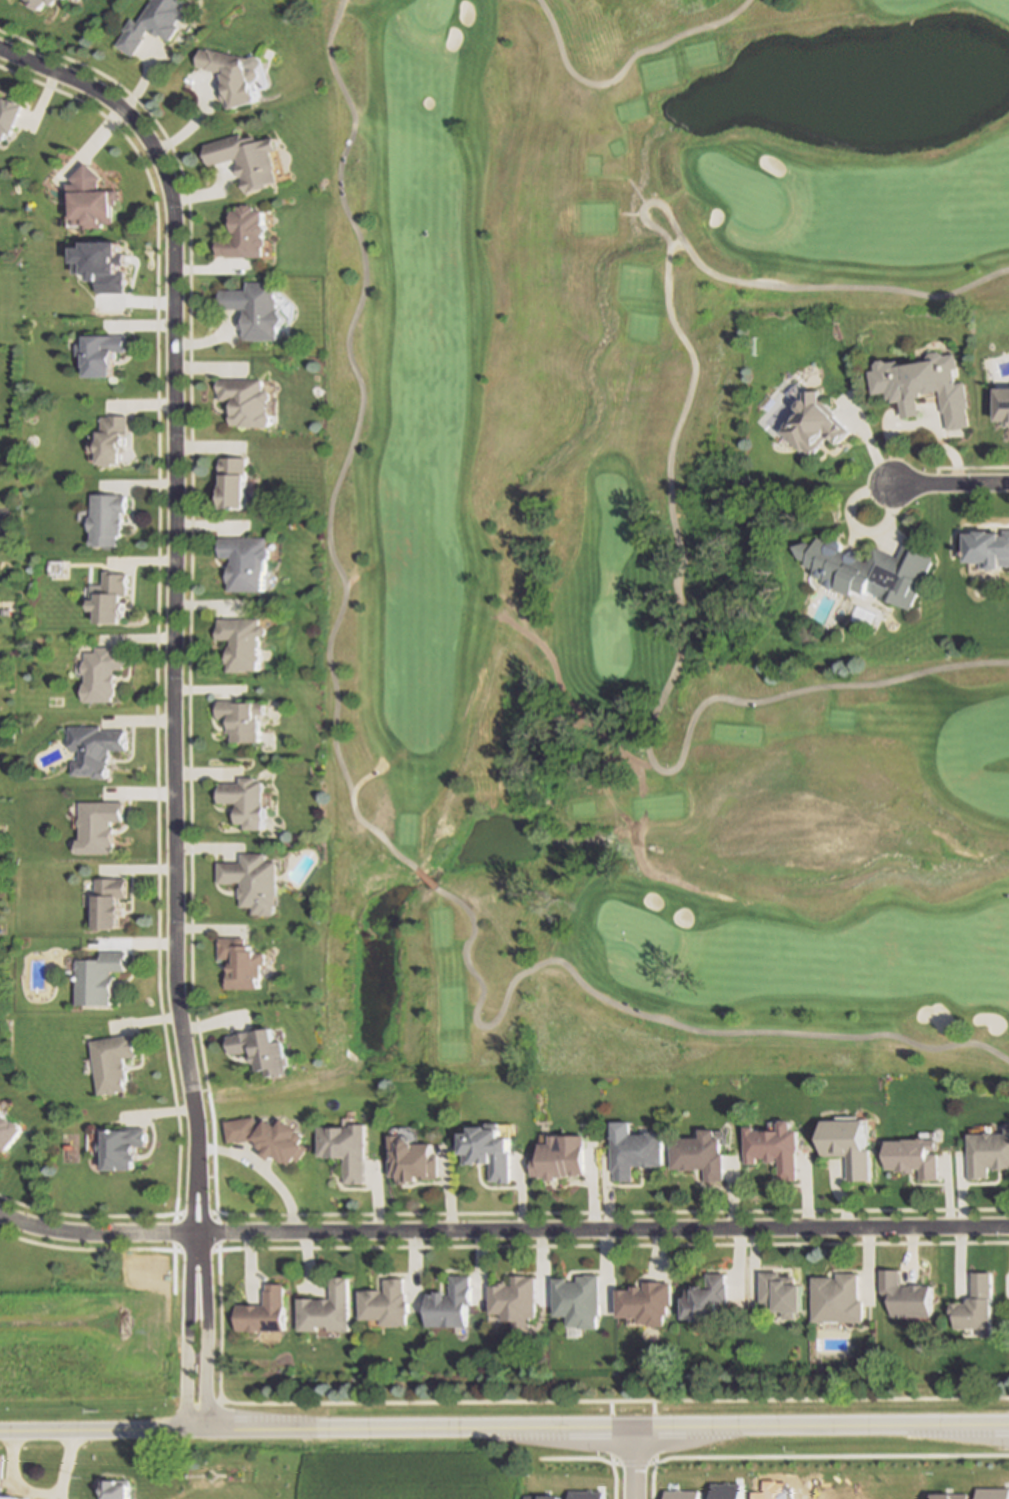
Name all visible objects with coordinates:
building: (52, 1)
building: (38, 3)
park: (429, 12)
building: (154, 22)
road: (621, 68)
building: (233, 74)
building: (8, 114)
building: (244, 157)
park: (741, 191)
building: (92, 197)
building: (243, 231)
building: (254, 306)
building: (101, 352)
building: (922, 383)
building: (245, 400)
building: (1004, 401)
building: (815, 422)
building: (111, 439)
road: (668, 477)
building: (231, 481)
road: (949, 481)
building: (107, 518)
park: (634, 544)
building: (990, 548)
road: (173, 559)
building: (244, 560)
building: (868, 568)
building: (112, 597)
building: (242, 640)
park: (609, 641)
building: (103, 673)
building: (244, 718)
building: (96, 748)
building: (249, 800)
road: (359, 821)
building: (100, 826)
building: (255, 881)
building: (111, 901)
park: (631, 928)
building: (243, 963)
building: (101, 978)
building: (262, 1050)
building: (117, 1062)
building: (8, 1131)
building: (268, 1138)
building: (852, 1147)
building: (128, 1148)
building: (777, 1148)
building: (345, 1149)
building: (635, 1151)
building: (487, 1152)
building: (989, 1154)
building: (702, 1155)
building: (916, 1157)
building: (560, 1158)
building: (411, 1161)
road: (503, 1230)
road: (203, 1293)
road: (185, 1294)
building: (784, 1294)
building: (906, 1296)
building: (709, 1299)
building: (838, 1299)
building: (515, 1300)
building: (579, 1300)
building: (648, 1303)
building: (387, 1304)
building: (451, 1304)
building: (976, 1306)
building: (328, 1309)
building: (265, 1312)
road: (644, 1426)
road: (139, 1431)
road: (630, 1462)
crop: (411, 1468)
building: (115, 1490)
road: (38, 1491)
building: (9, 1495)
road: (52, 1496)

